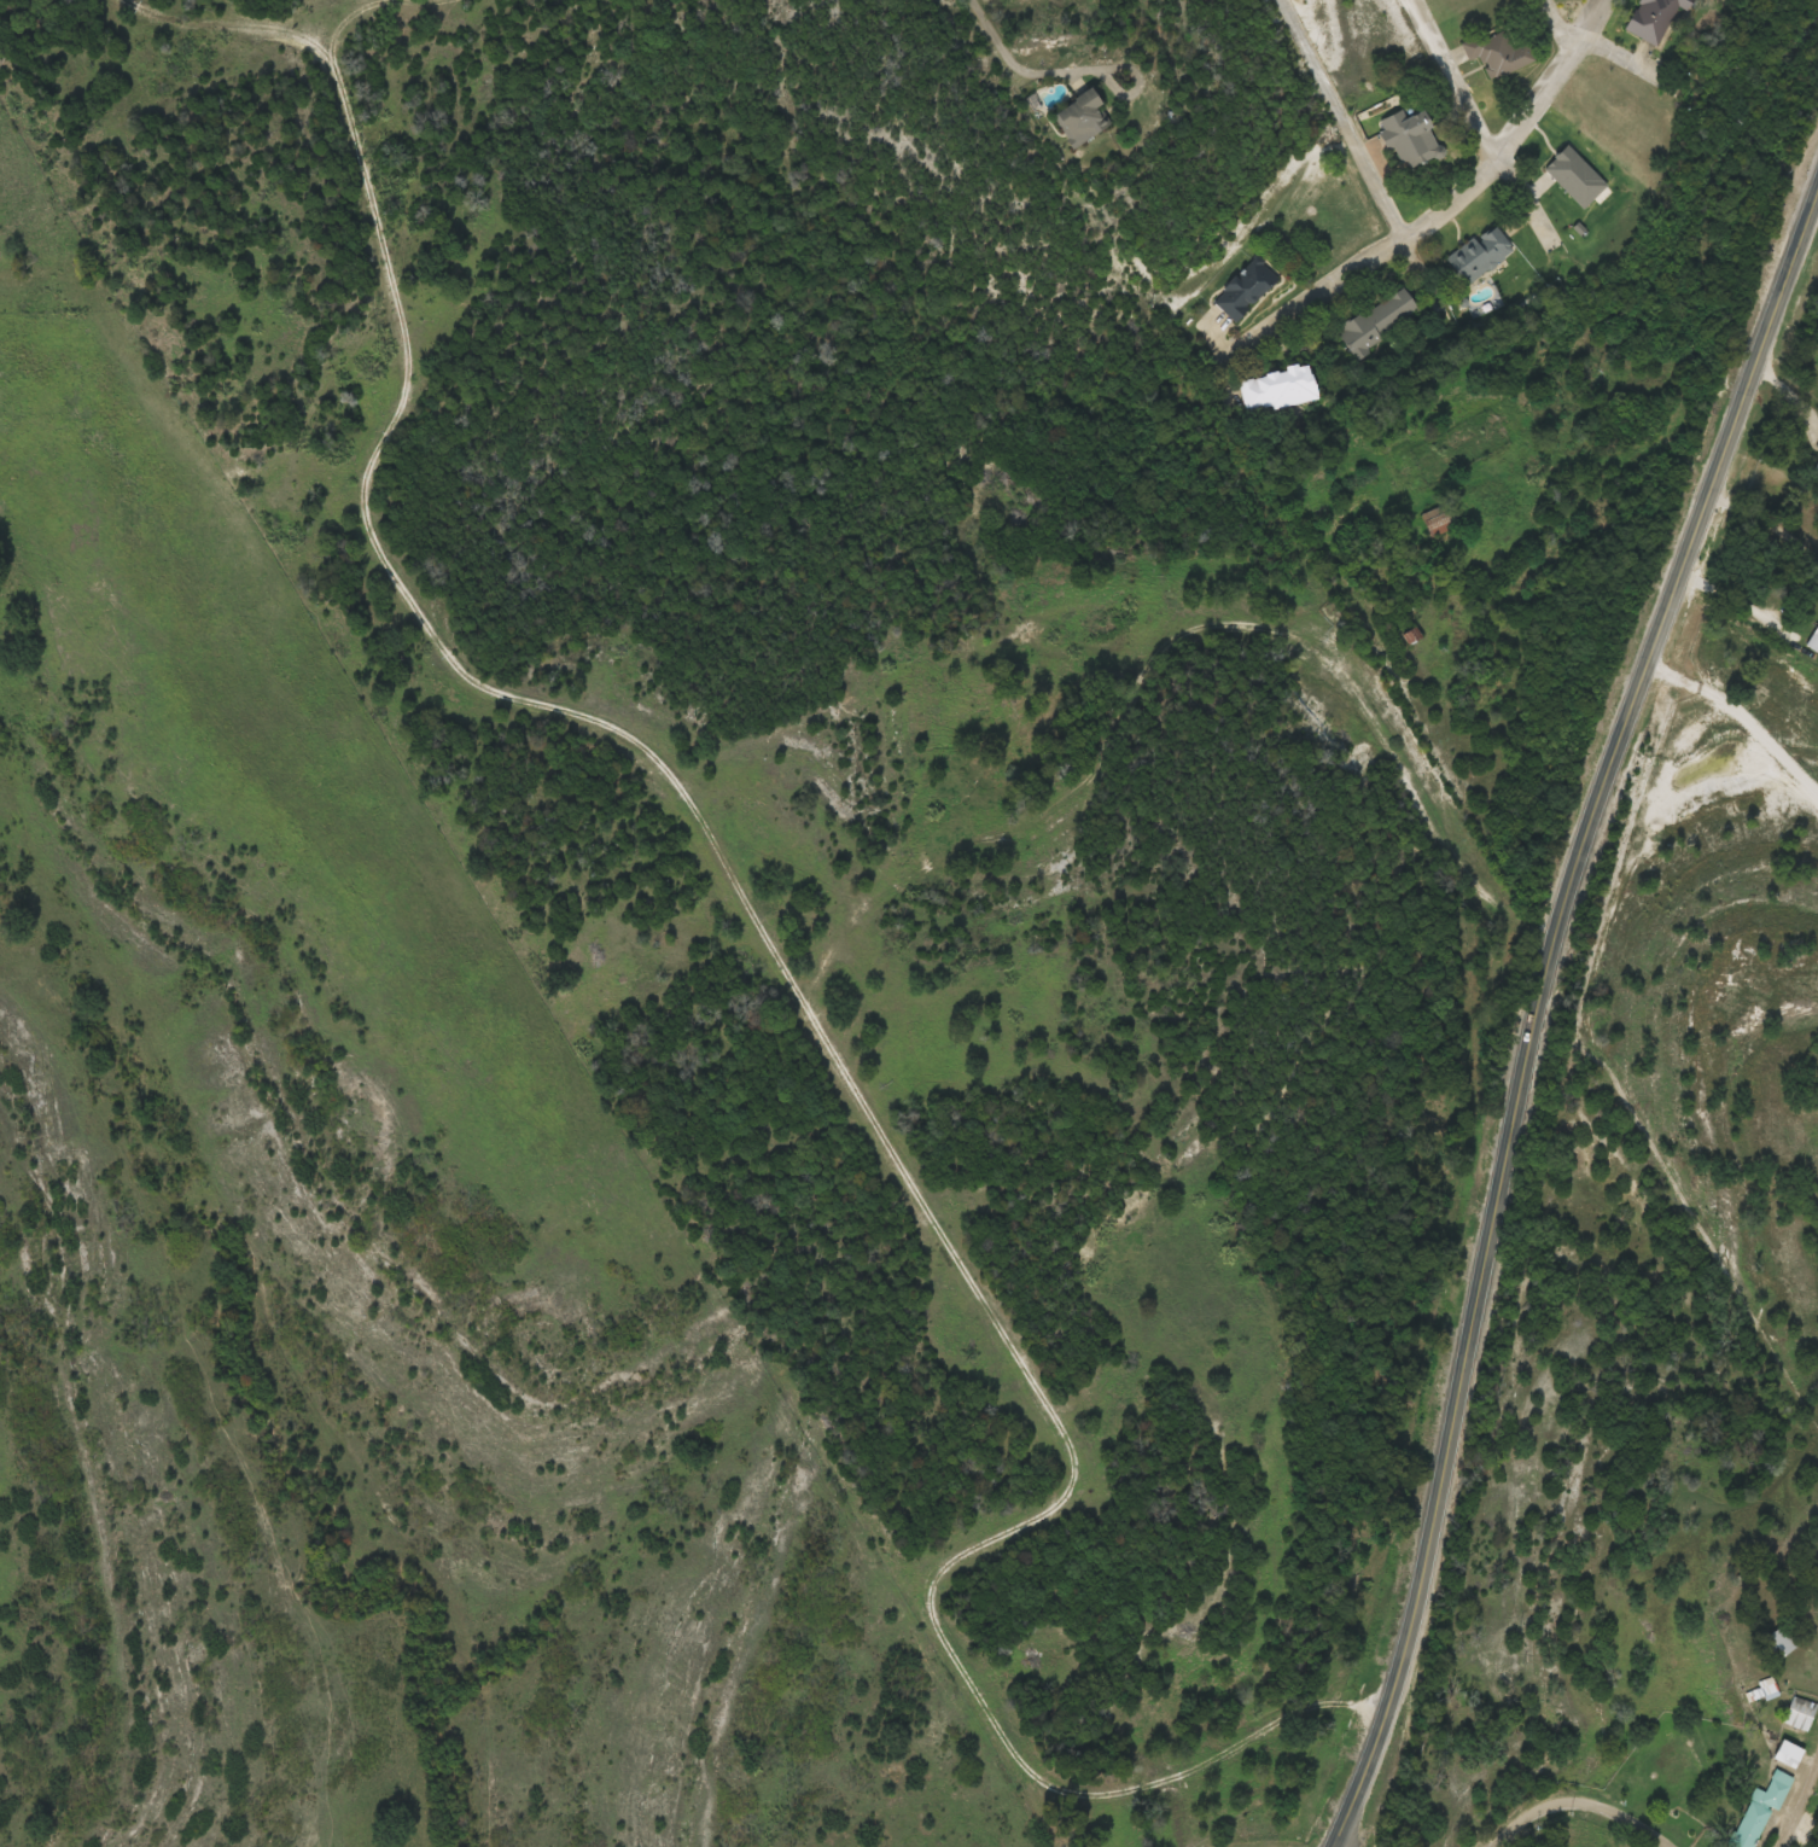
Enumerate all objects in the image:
building: (1655, 18)
road: (992, 29)
road: (1601, 47)
building: (1501, 54)
road: (1459, 80)
building: (1082, 118)
building: (1411, 138)
road: (1358, 152)
road: (1521, 196)
road: (1441, 209)
road: (1810, 214)
building: (1481, 255)
building: (1246, 290)
building: (1379, 320)
building: (1278, 388)
building: (1814, 471)
building: (1813, 641)
road: (1740, 715)
road: (1539, 991)
building: (1778, 1644)
building: (1800, 1713)
building: (1788, 1754)
road: (1590, 1794)
building: (1758, 1812)
road: (1341, 1846)

